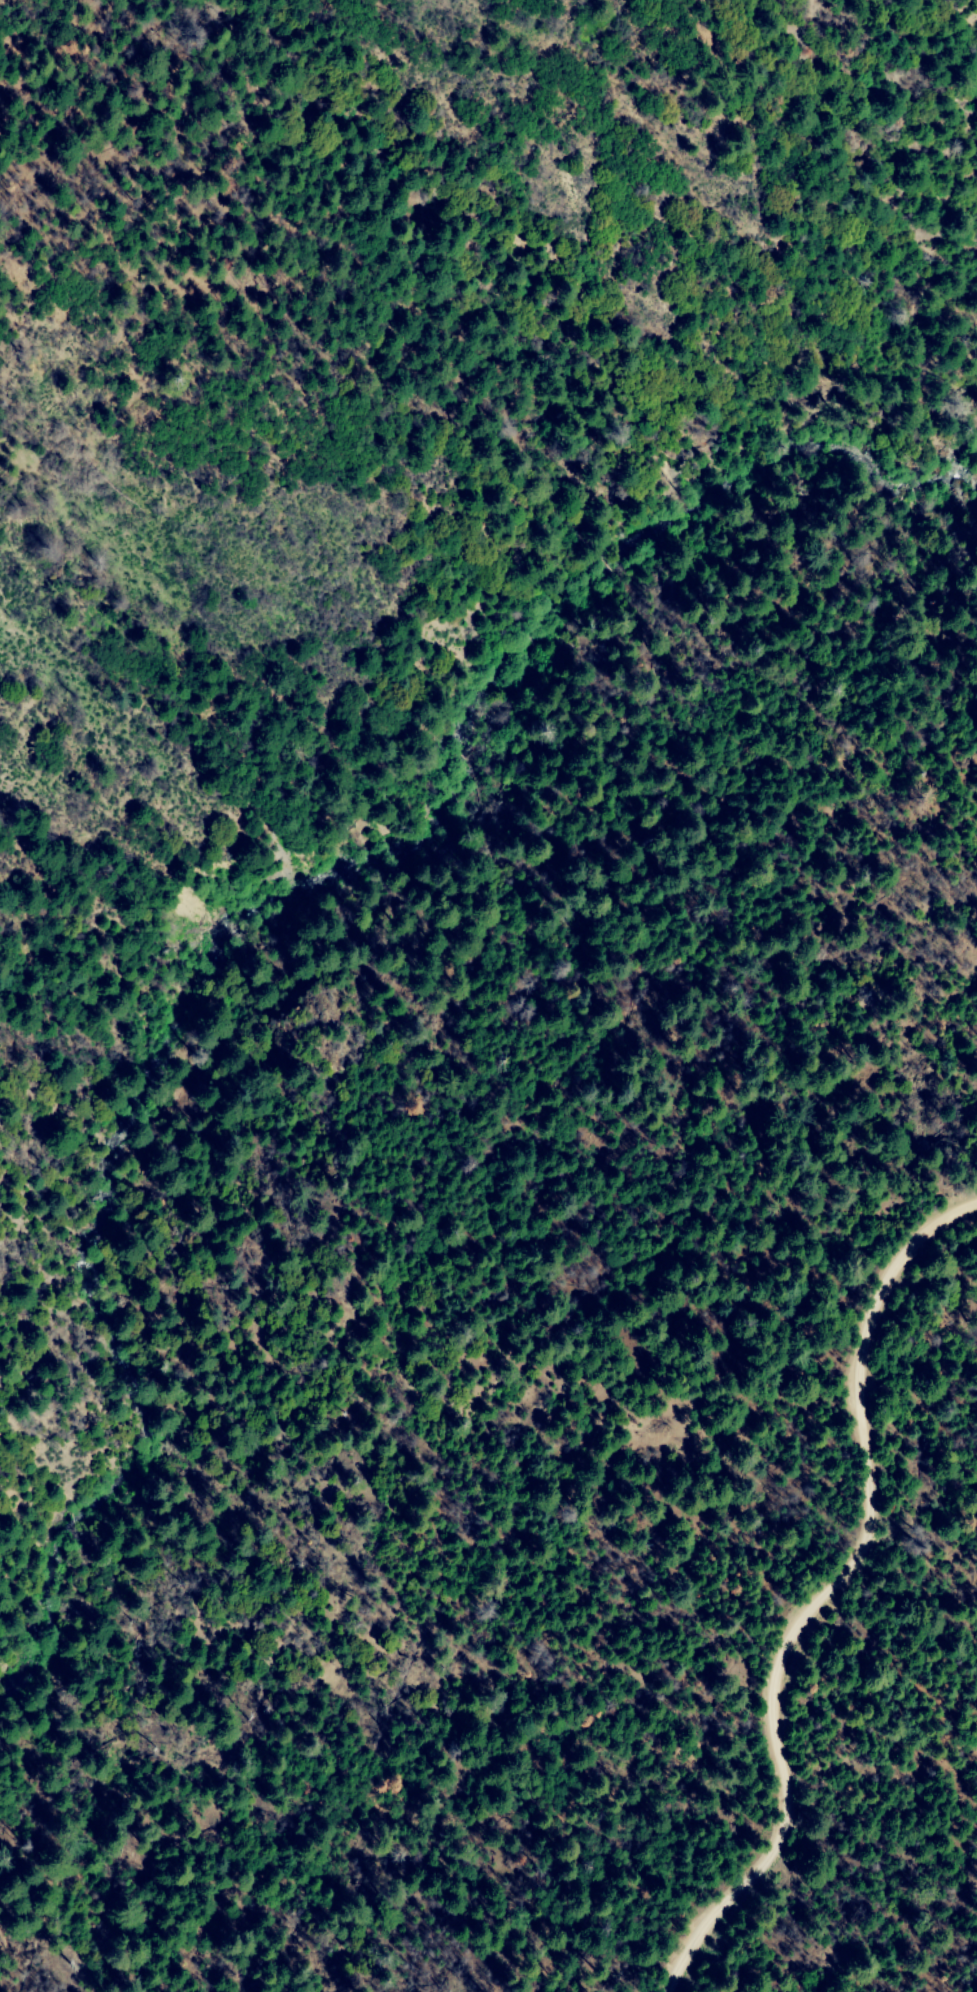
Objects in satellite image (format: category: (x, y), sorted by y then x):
road: (831, 1600)

